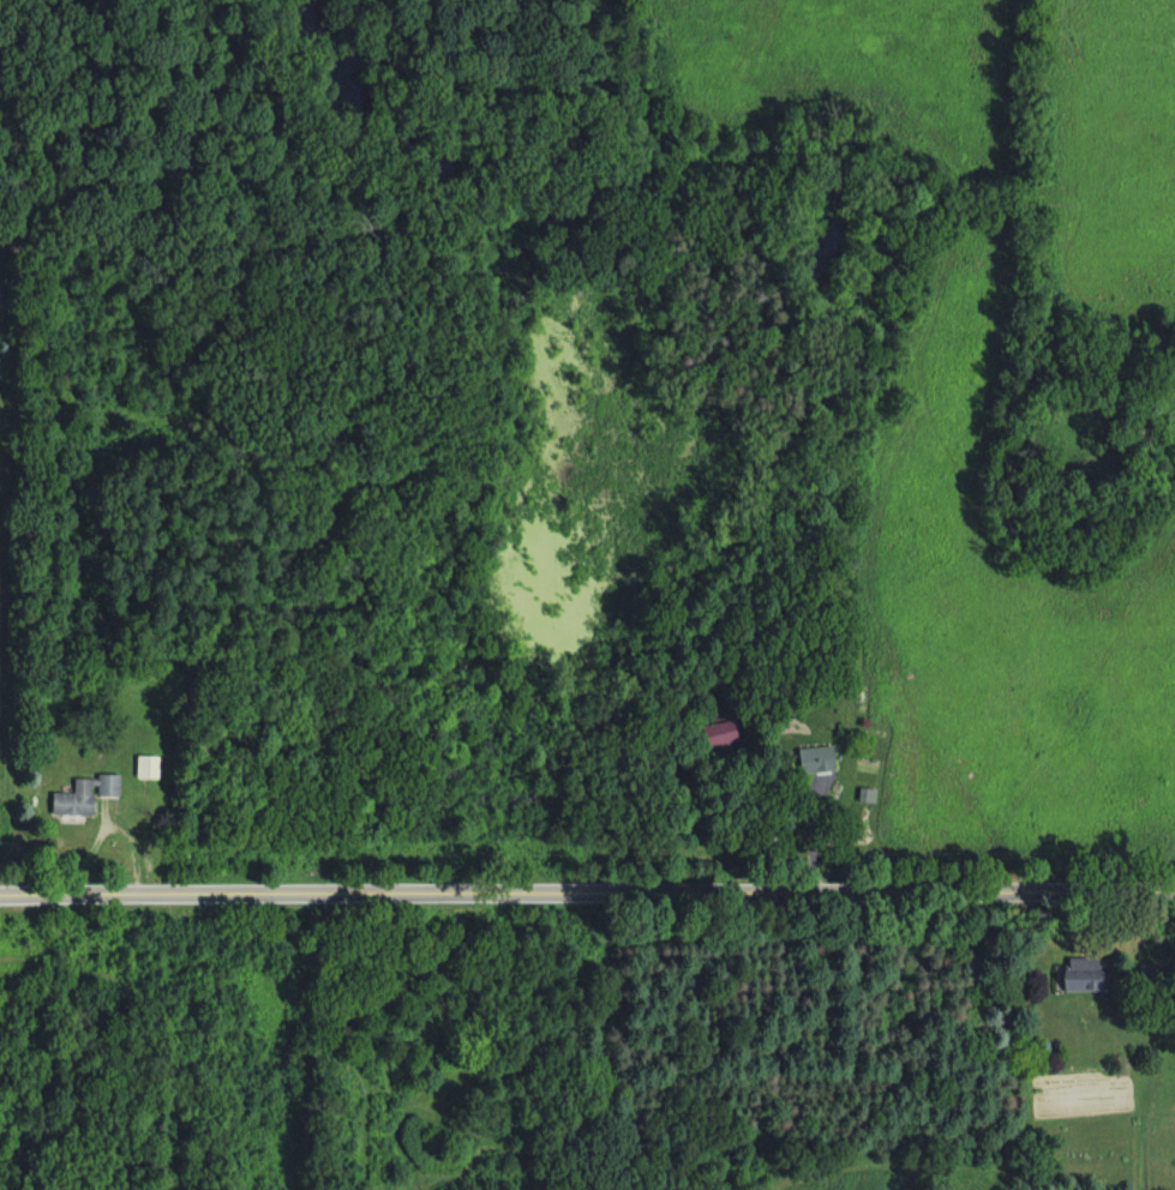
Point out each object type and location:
building: (726, 737)
building: (821, 761)
building: (151, 769)
building: (88, 797)
road: (587, 888)
building: (1087, 979)

